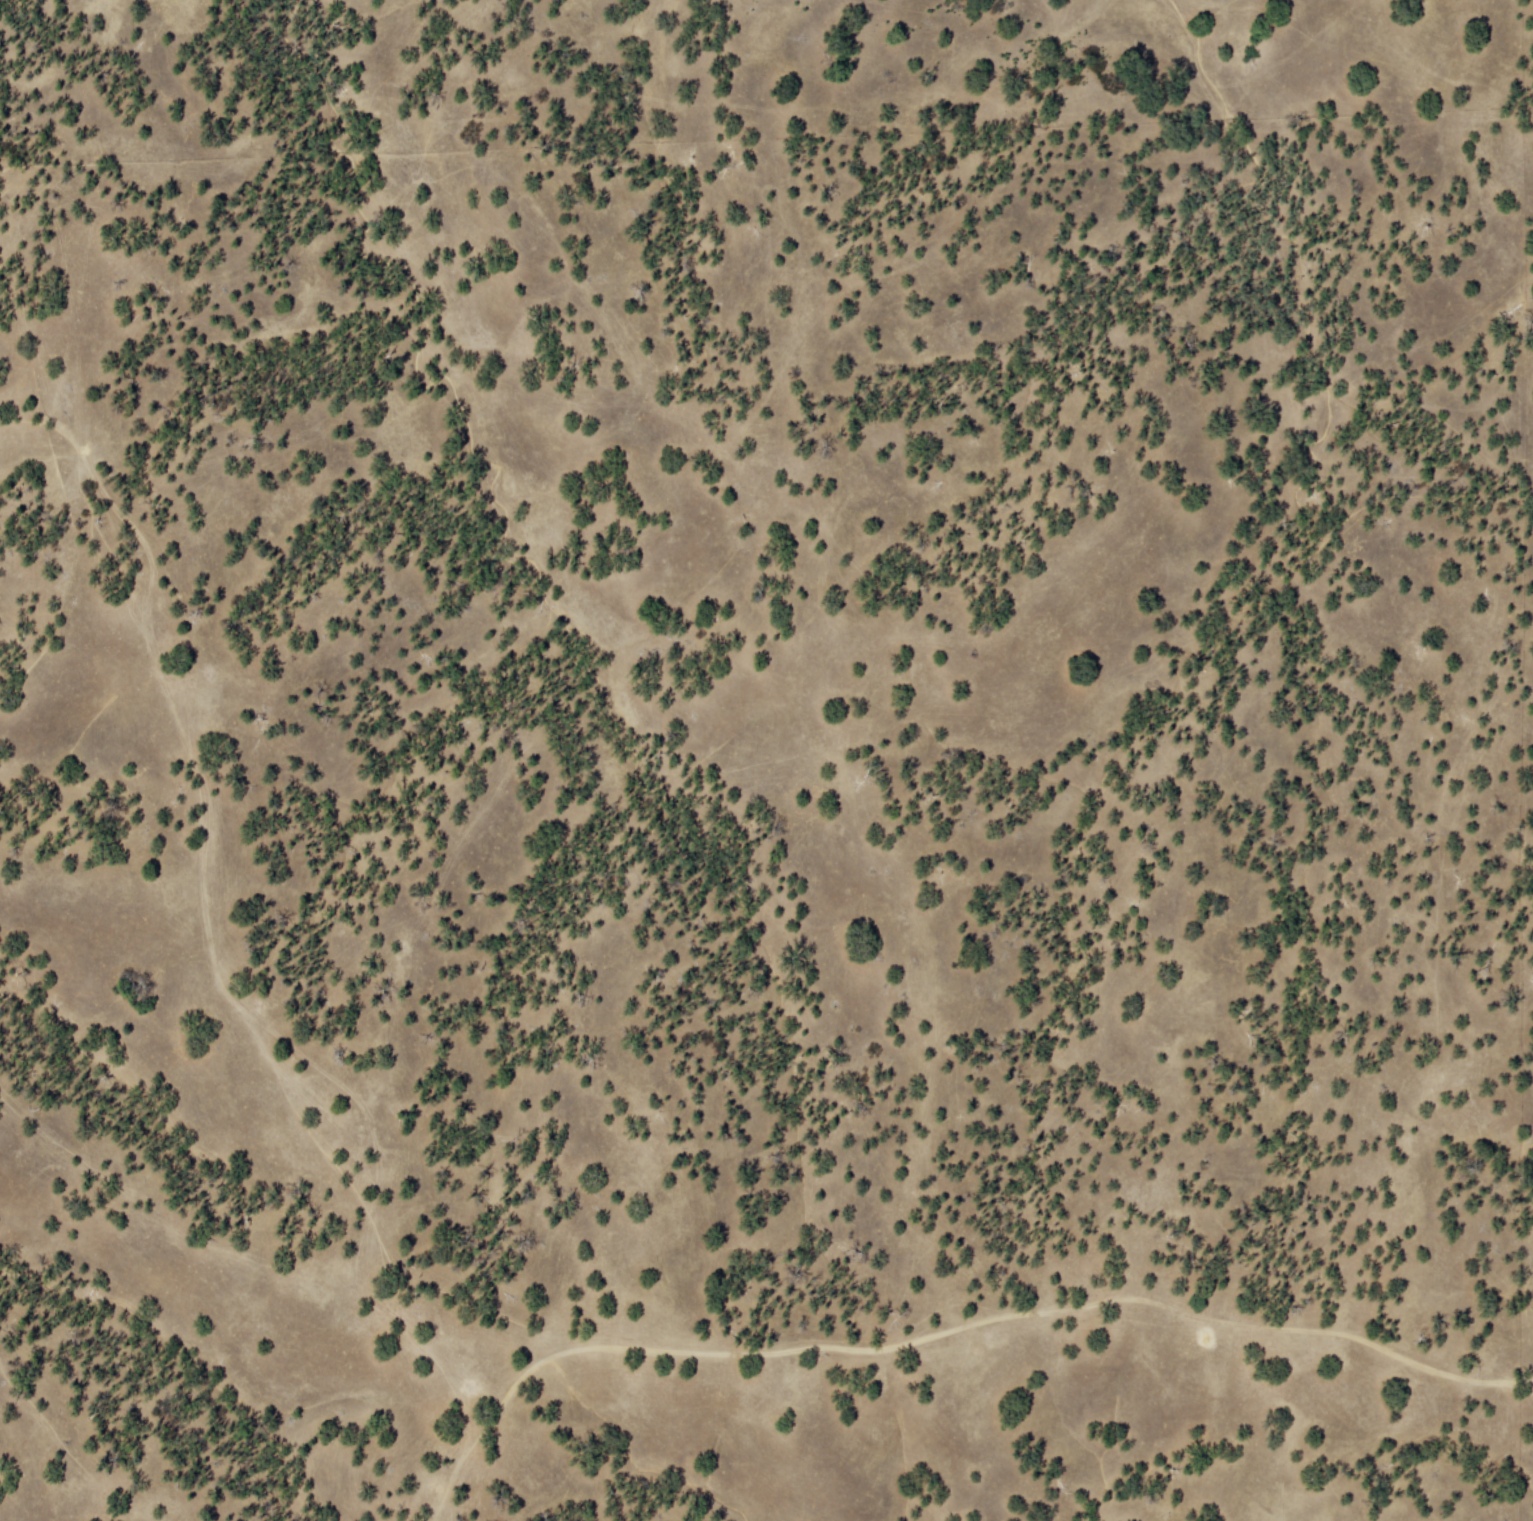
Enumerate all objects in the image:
road: (943, 1332)

